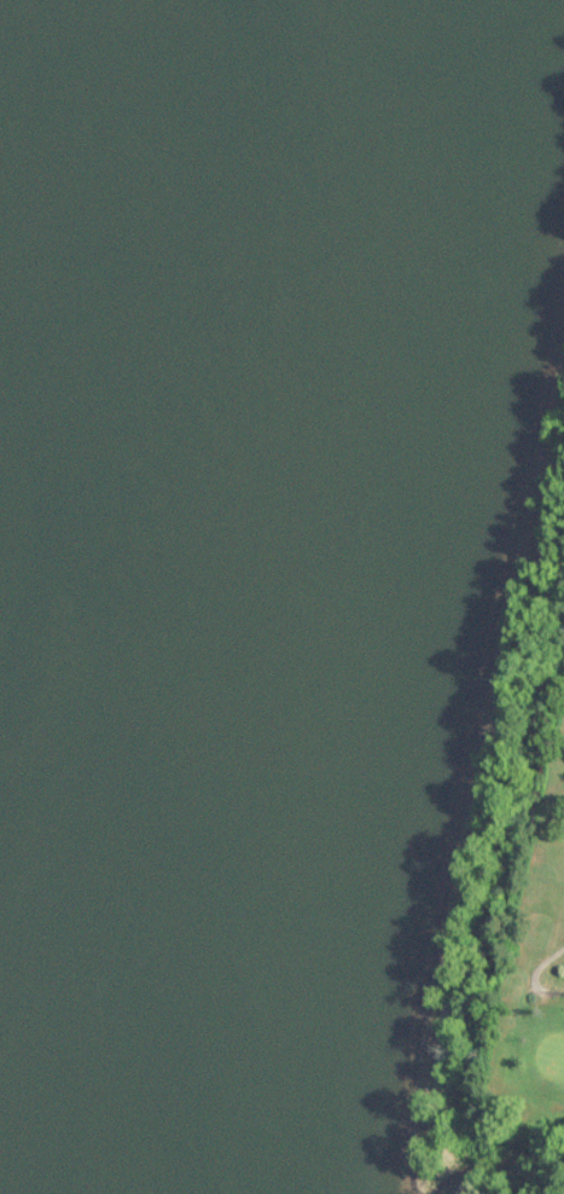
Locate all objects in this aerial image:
river: (76, 405)
park: (524, 874)
road: (529, 974)

